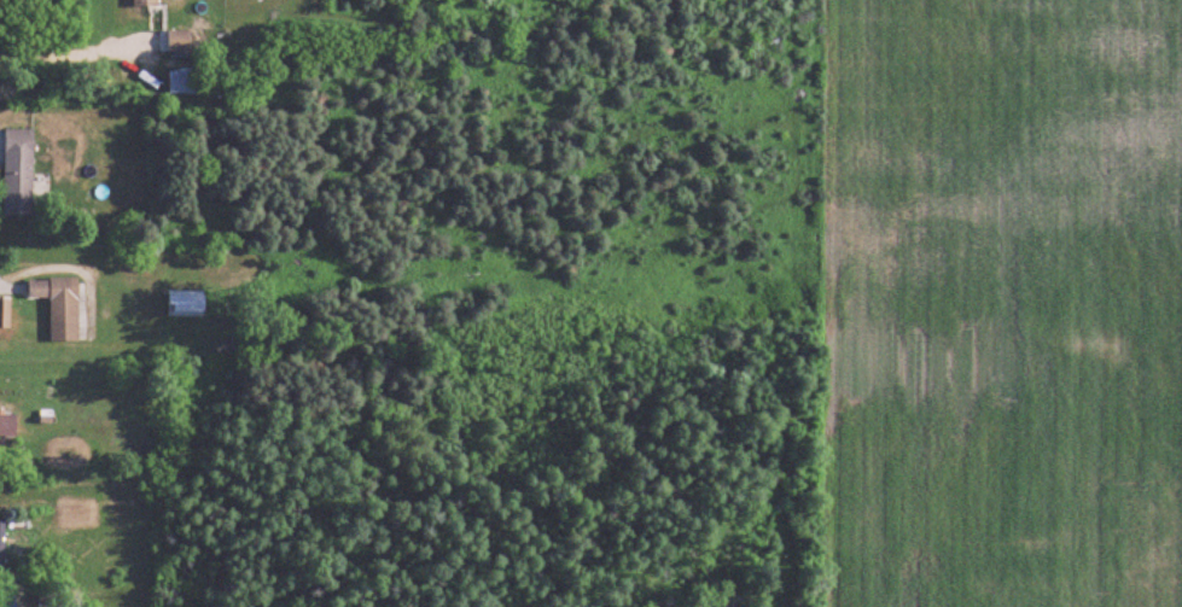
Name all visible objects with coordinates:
building: (146, 4)
building: (179, 42)
building: (186, 83)
building: (18, 173)
building: (187, 304)
building: (60, 305)
building: (5, 313)
building: (7, 426)
building: (2, 548)

